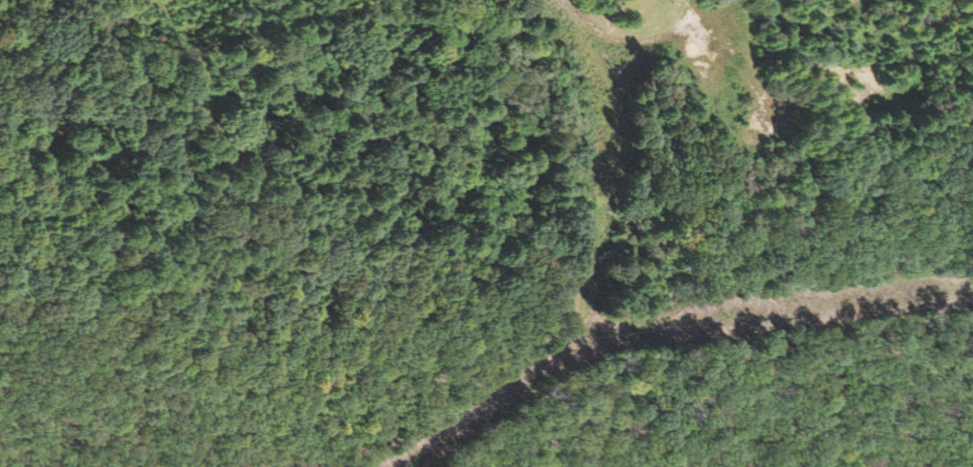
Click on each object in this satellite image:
road: (639, 149)
road: (368, 192)

